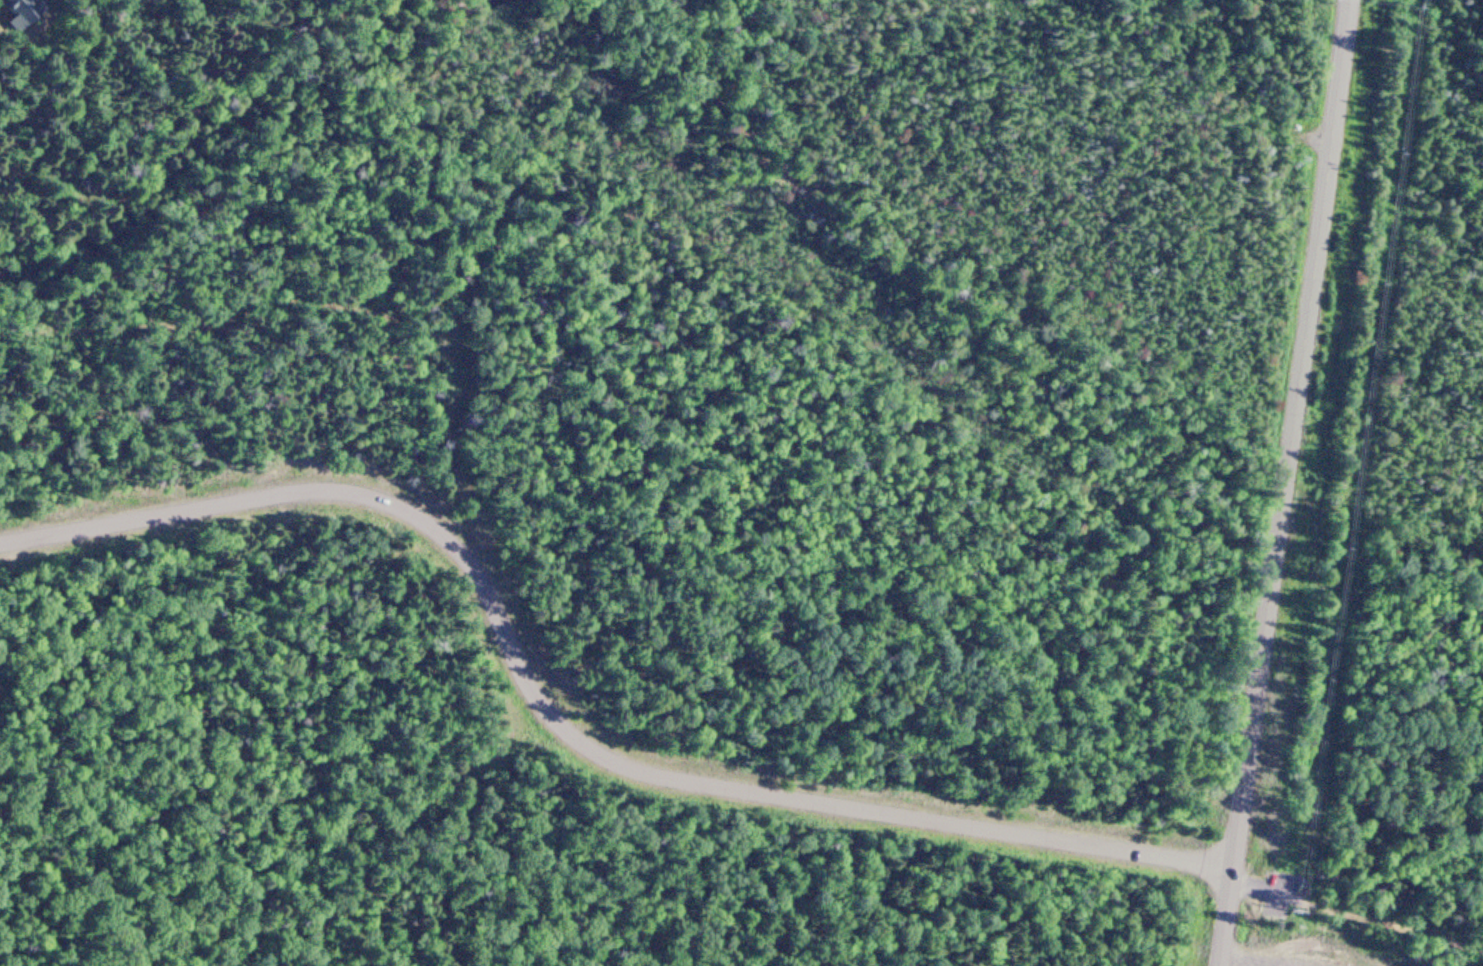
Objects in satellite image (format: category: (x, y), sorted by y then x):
building: (16, 10)
road: (1285, 483)
road: (563, 729)
road: (1356, 918)

